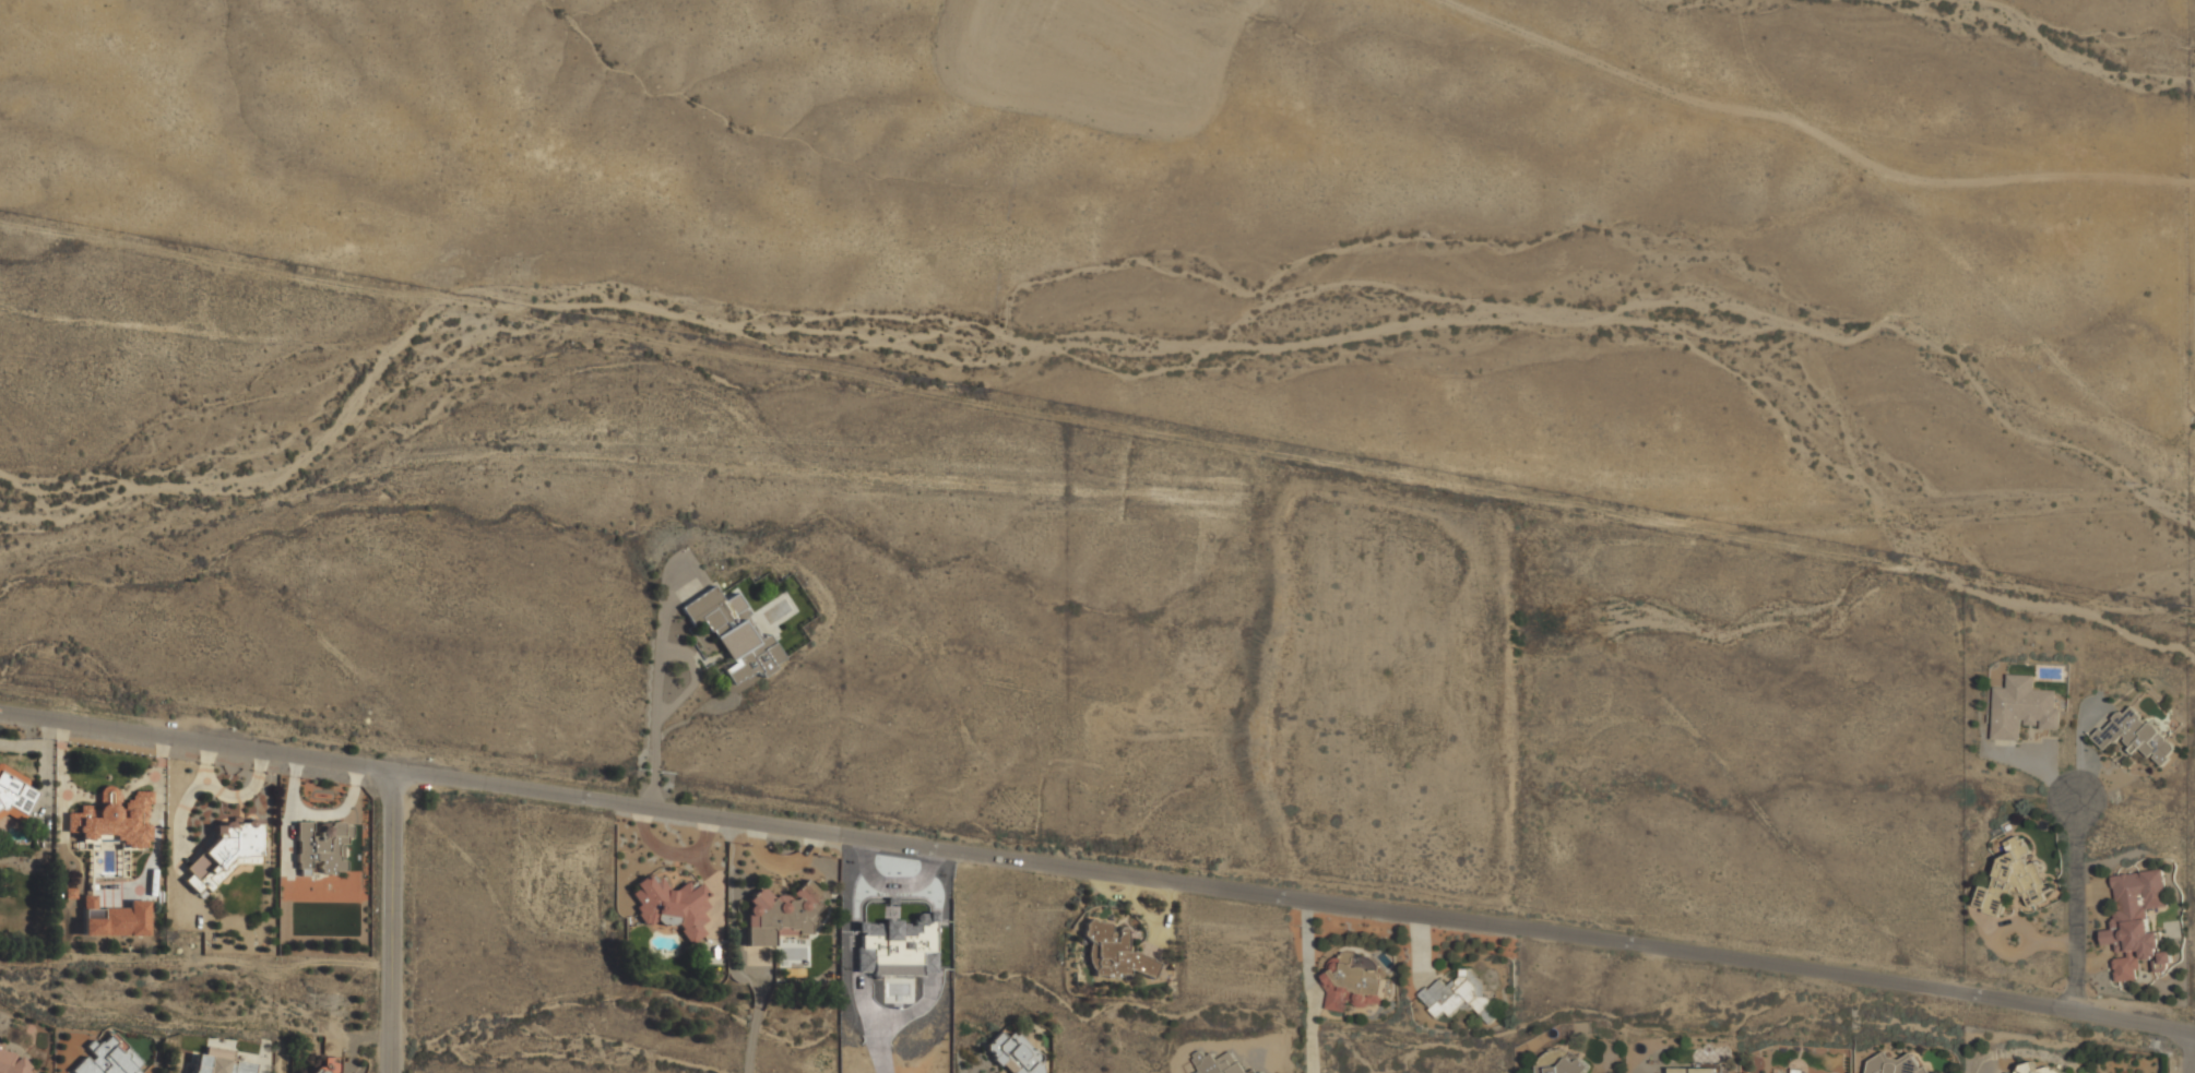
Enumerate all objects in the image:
road: (1811, 130)
road: (664, 605)
building: (733, 633)
road: (656, 673)
building: (2022, 707)
building: (2135, 735)
road: (195, 739)
building: (14, 794)
building: (322, 847)
building: (224, 854)
building: (2013, 879)
road: (1293, 897)
road: (2076, 904)
building: (92, 906)
building: (671, 906)
building: (780, 914)
road: (390, 920)
building: (120, 921)
building: (2136, 921)
building: (909, 944)
building: (1135, 963)
building: (1352, 983)
road: (1309, 986)
building: (1459, 995)
road: (2188, 1052)
building: (1013, 1054)
building: (107, 1058)
building: (220, 1062)
building: (12, 1063)
building: (1218, 1063)
building: (1893, 1064)
building: (325, 1065)
building: (1568, 1066)
building: (1695, 1070)
building: (2037, 1070)
building: (1792, 1071)
building: (2008, 1072)

